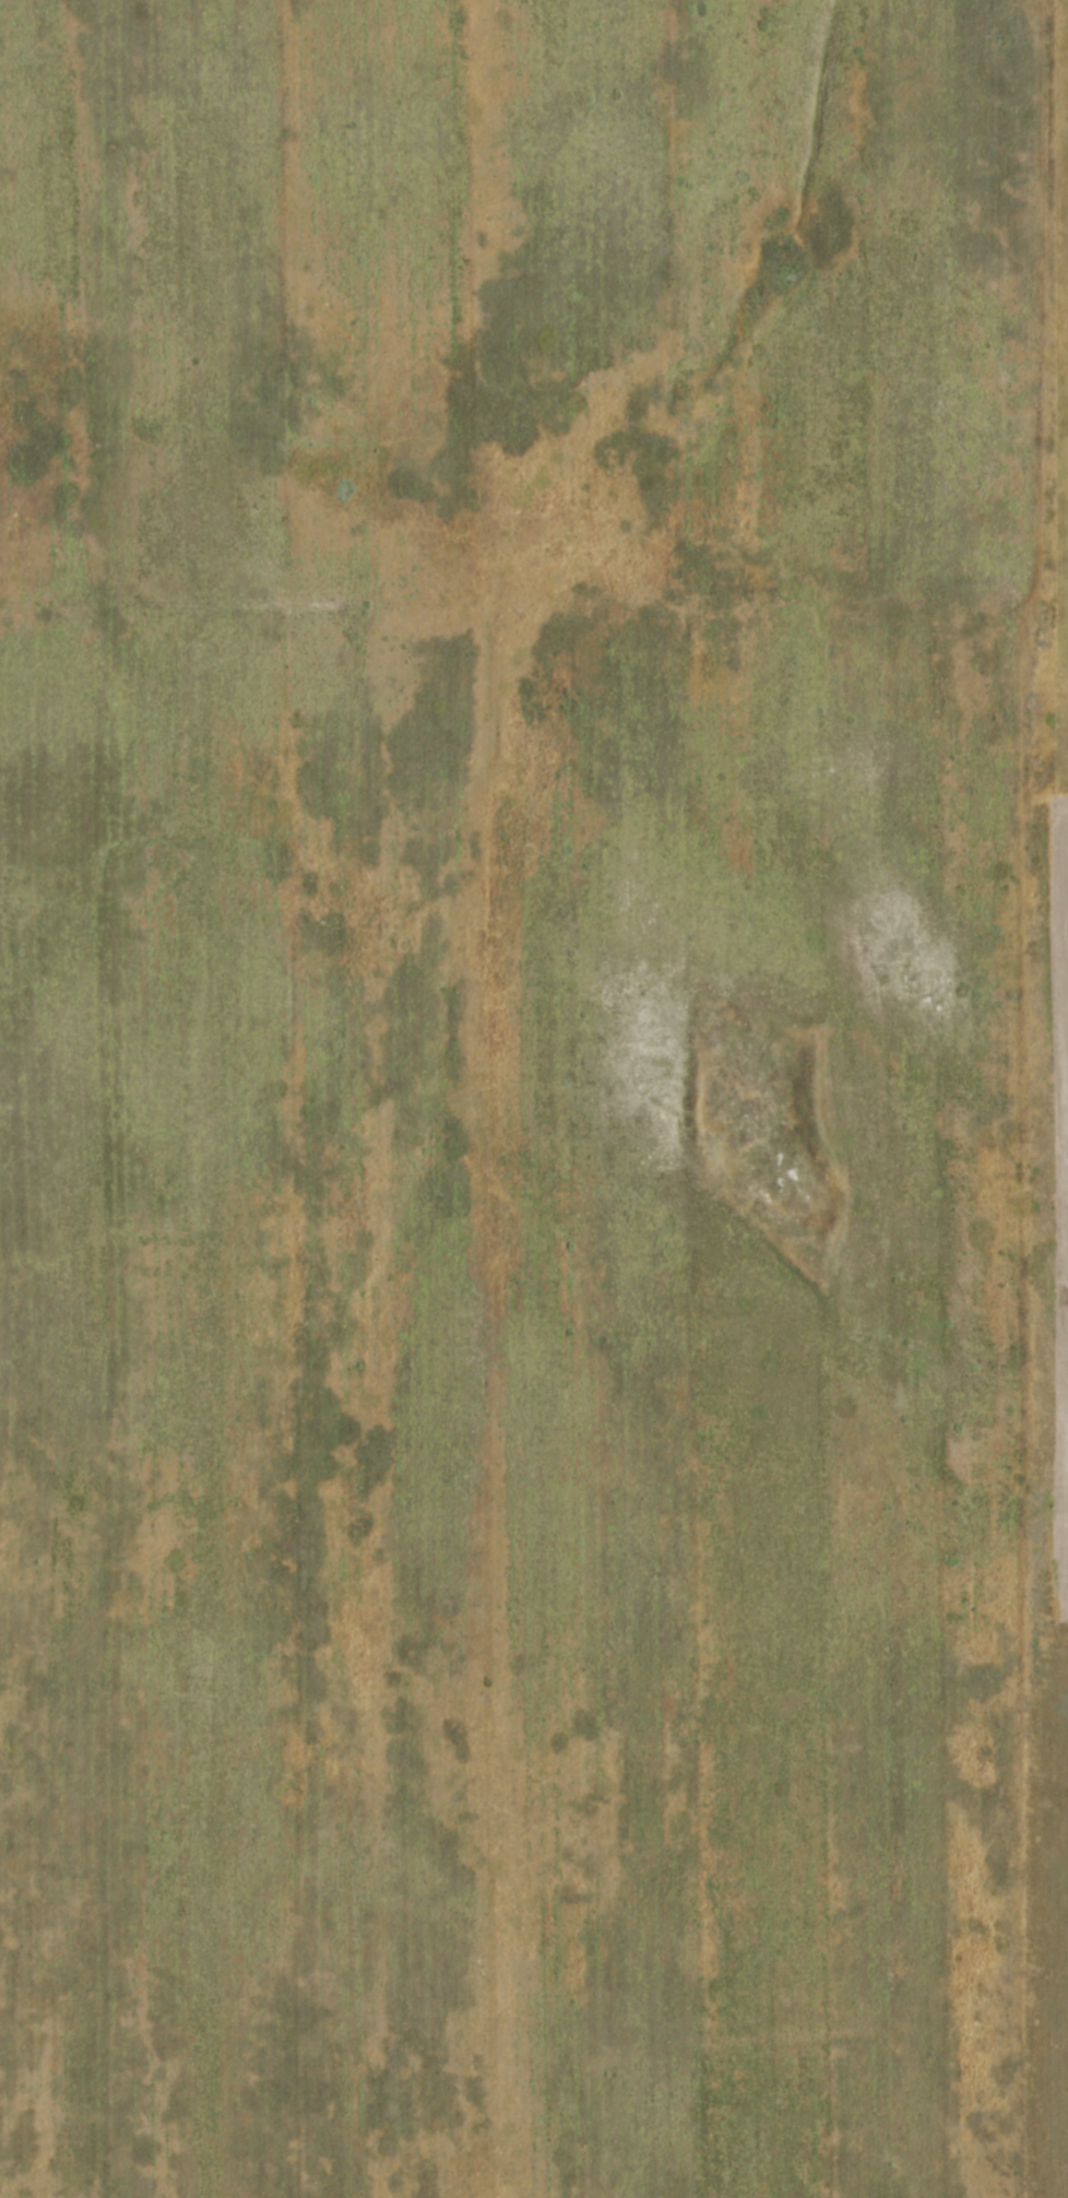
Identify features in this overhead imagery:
road: (1041, 1099)

